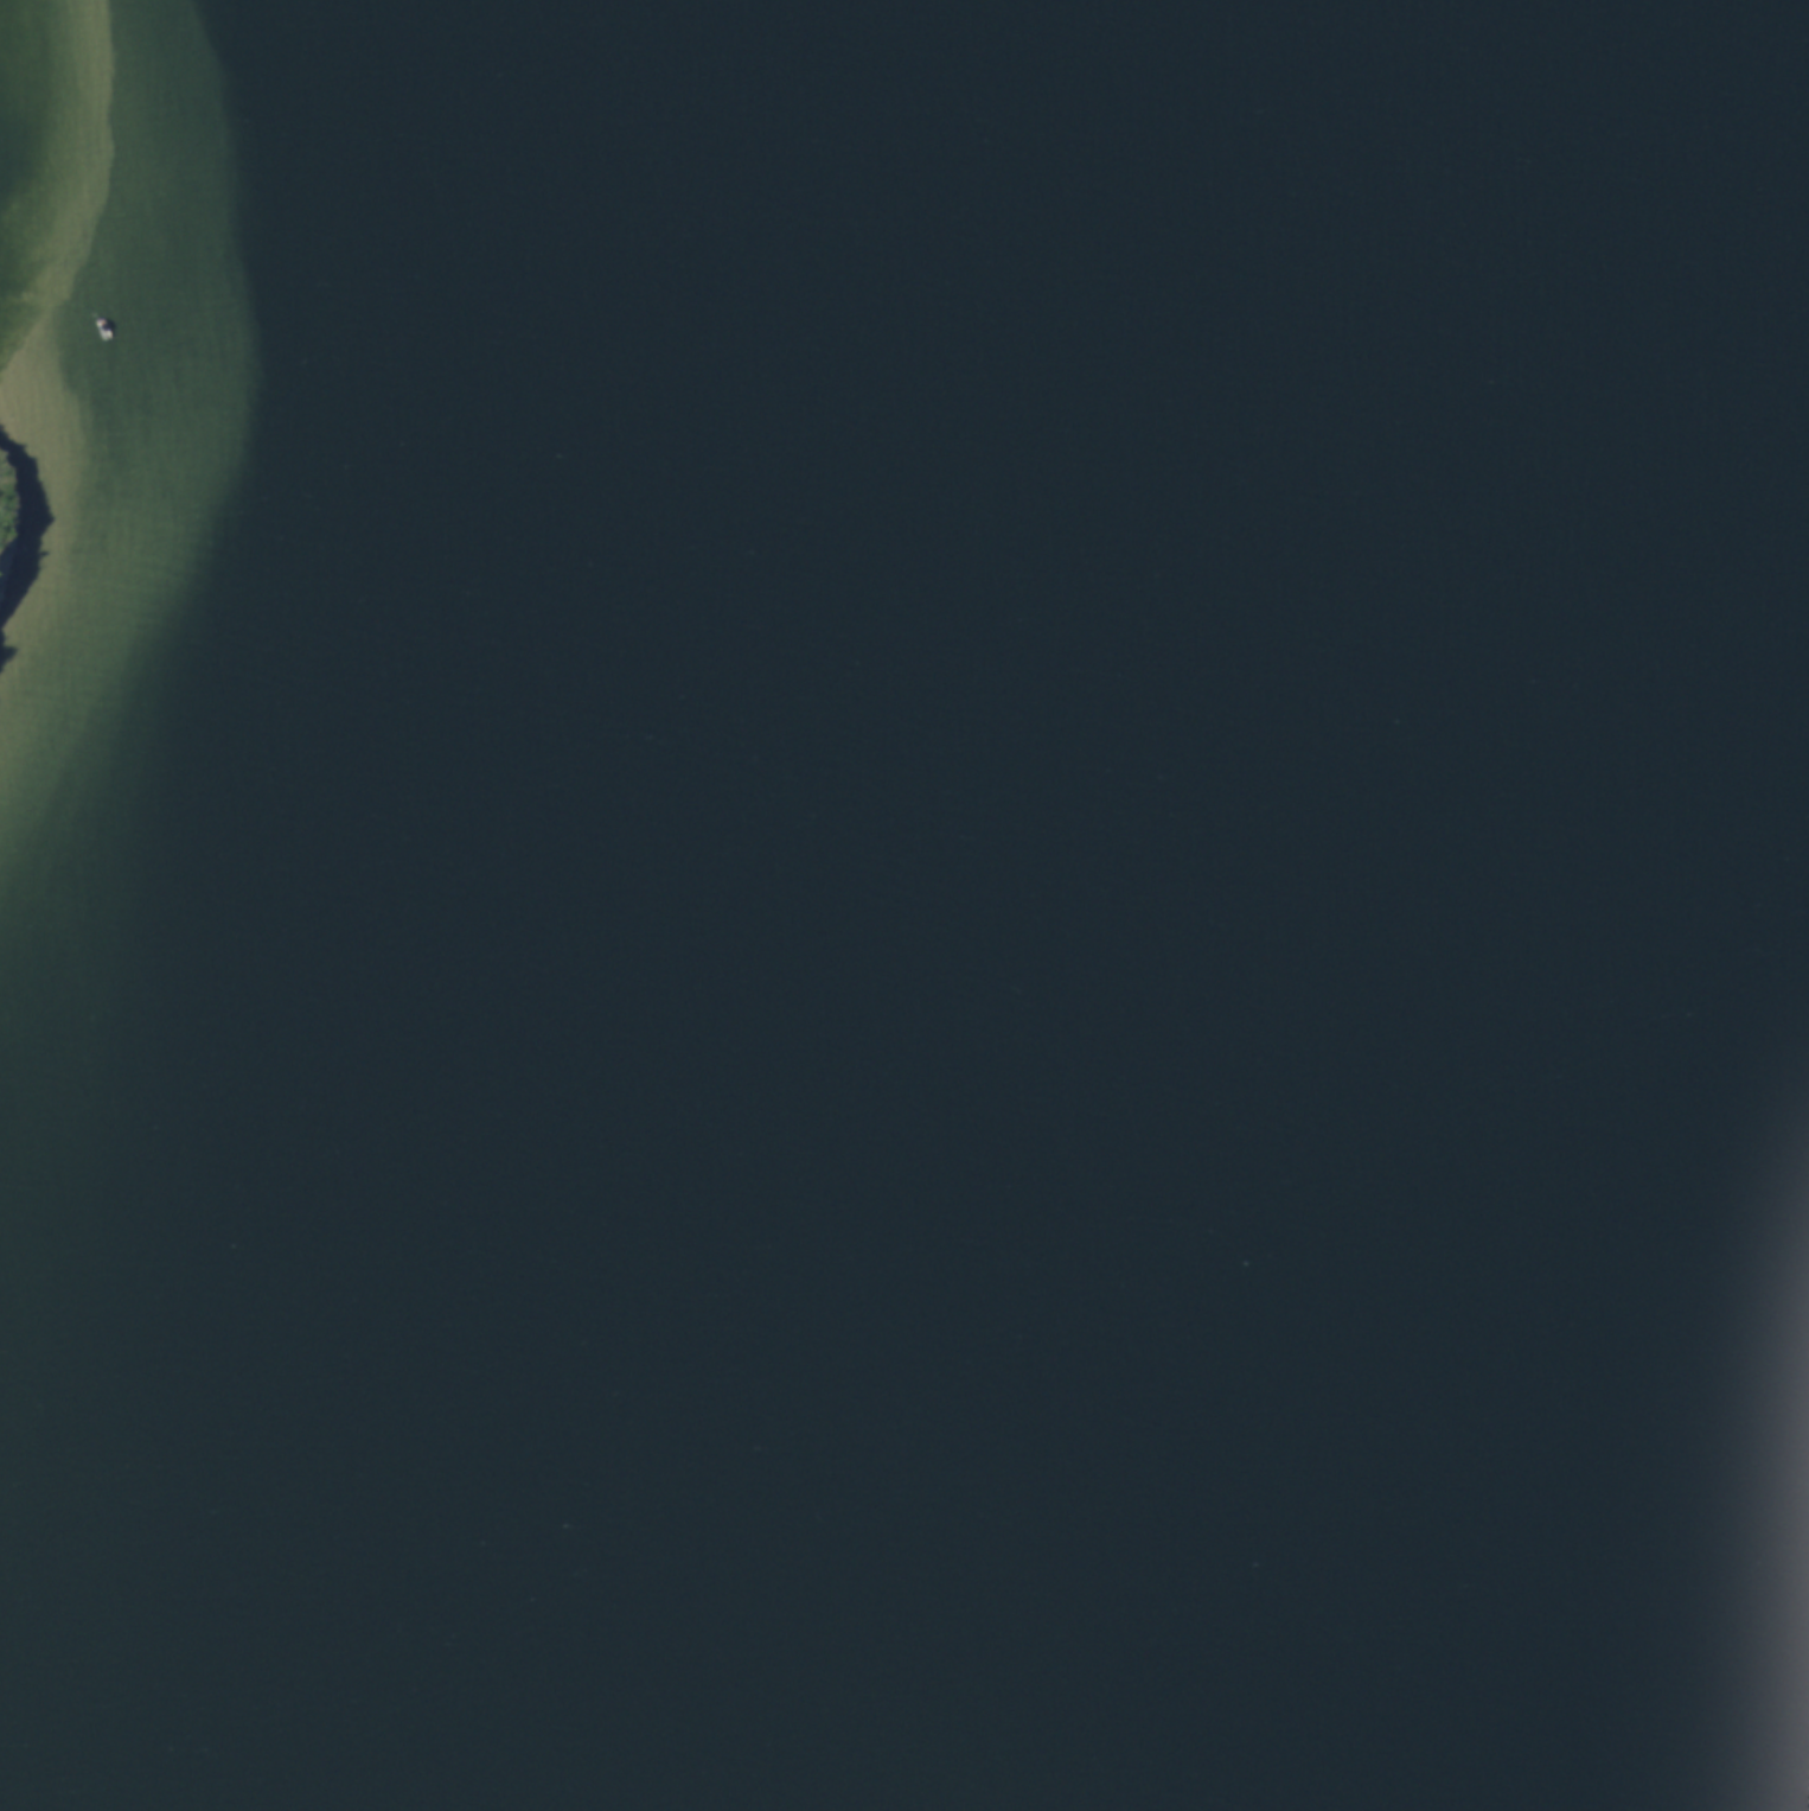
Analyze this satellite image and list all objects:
river: (1555, 1657)

